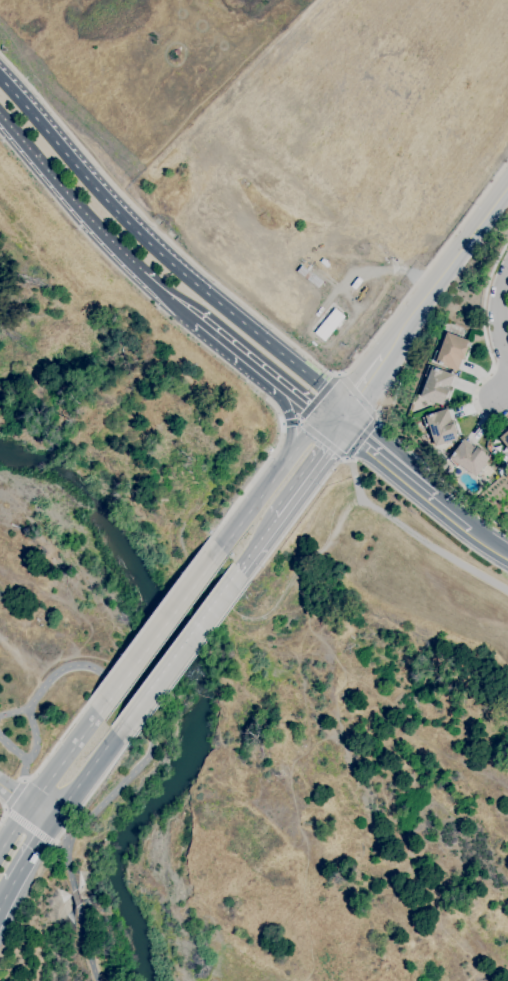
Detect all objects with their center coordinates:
road: (28, 150)
road: (105, 237)
road: (163, 254)
road: (444, 270)
building: (309, 275)
road: (498, 313)
road: (260, 317)
building: (330, 323)
road: (217, 337)
road: (488, 345)
building: (452, 351)
road: (336, 375)
building: (437, 385)
road: (361, 386)
road: (355, 393)
road: (503, 395)
road: (318, 396)
road: (305, 409)
road: (374, 414)
traffic signals: (341, 417)
road: (297, 418)
road: (288, 419)
road: (376, 421)
road: (288, 422)
road: (299, 422)
building: (441, 426)
road: (309, 429)
building: (505, 437)
road: (361, 439)
road: (323, 441)
road: (346, 456)
building: (469, 457)
road: (385, 458)
road: (313, 470)
road: (435, 473)
building: (506, 473)
road: (255, 477)
road: (250, 508)
road: (451, 513)
road: (293, 519)
road: (414, 533)
road: (489, 543)
road: (259, 544)
road: (234, 574)
road: (148, 620)
road: (158, 631)
road: (176, 651)
road: (186, 662)
road: (55, 672)
river: (205, 691)
road: (124, 702)
road: (12, 712)
road: (33, 734)
road: (62, 736)
road: (13, 748)
road: (24, 770)
road: (50, 774)
road: (88, 774)
road: (92, 789)
road: (12, 794)
road: (25, 803)
road: (43, 806)
road: (98, 806)
road: (3, 810)
road: (27, 826)
road: (64, 837)
road: (30, 853)
road: (5, 894)
road: (75, 897)
road: (87, 943)

